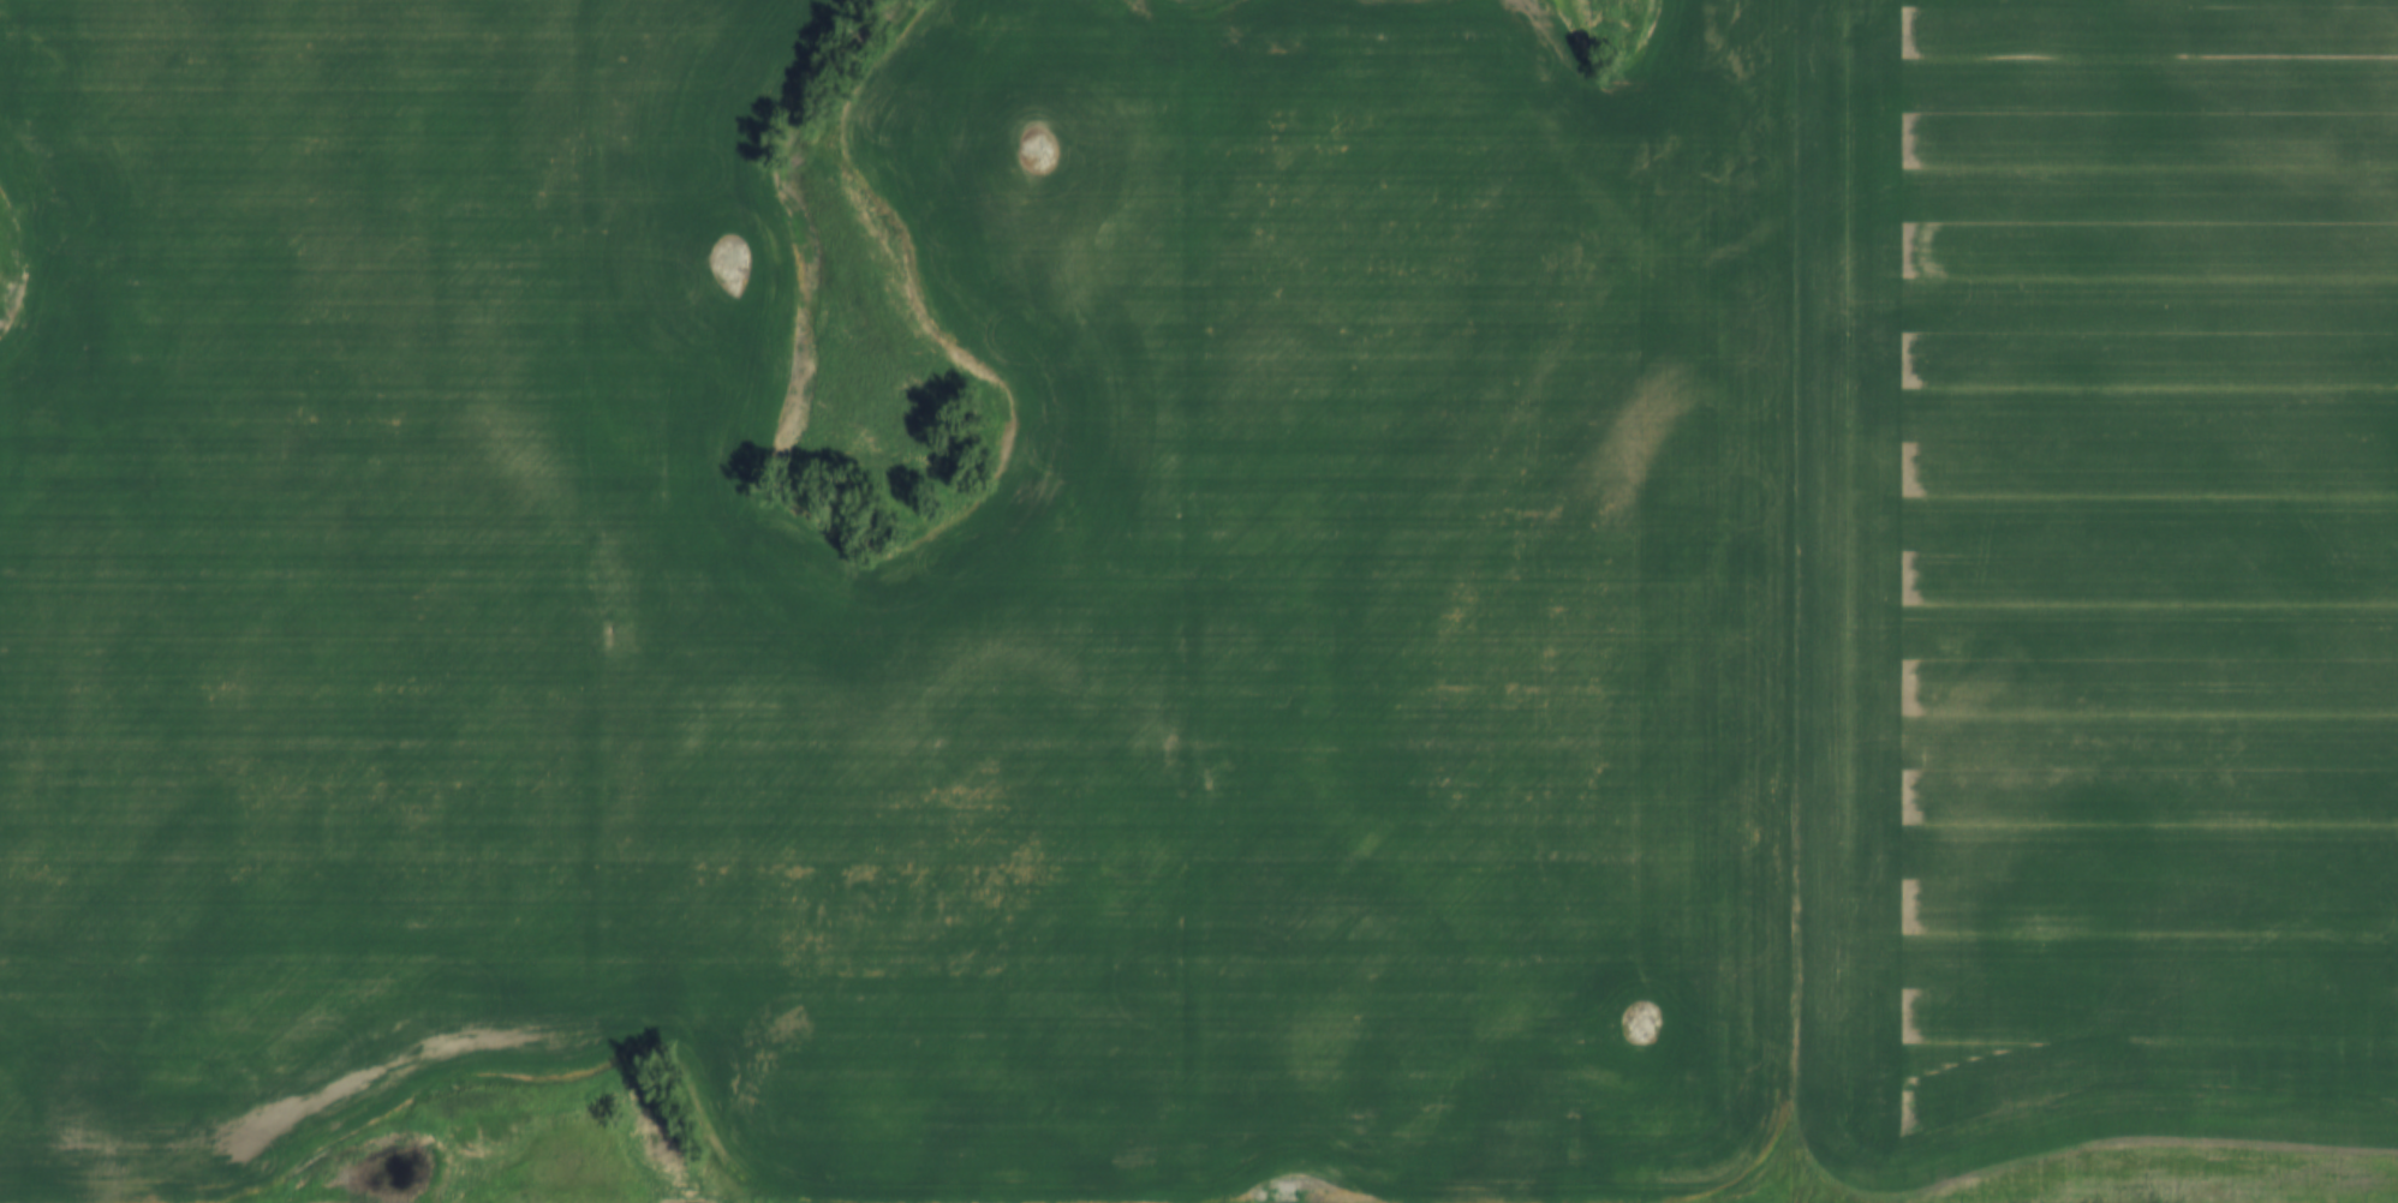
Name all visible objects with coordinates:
road: (1794, 601)

